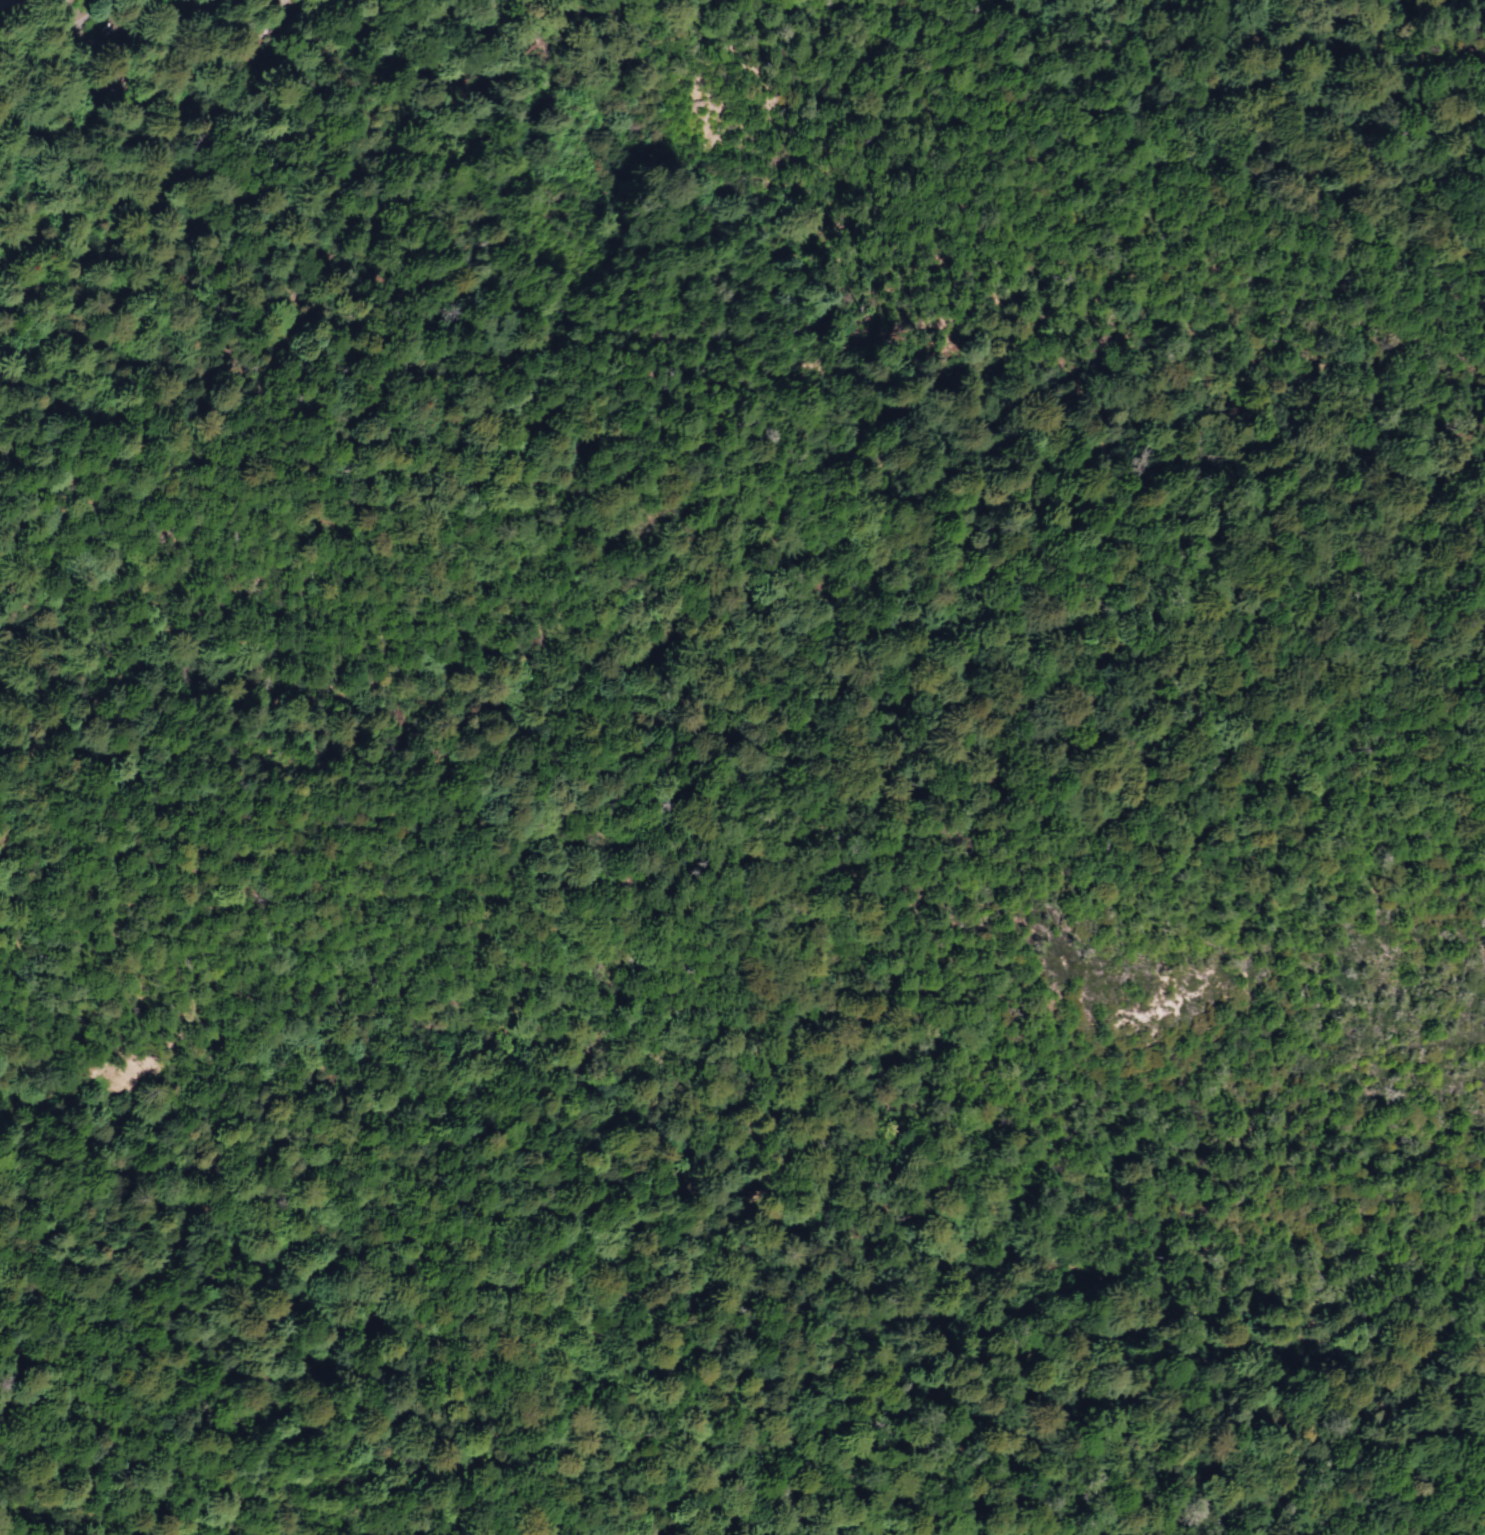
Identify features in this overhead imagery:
road: (55, 38)
road: (18, 41)

